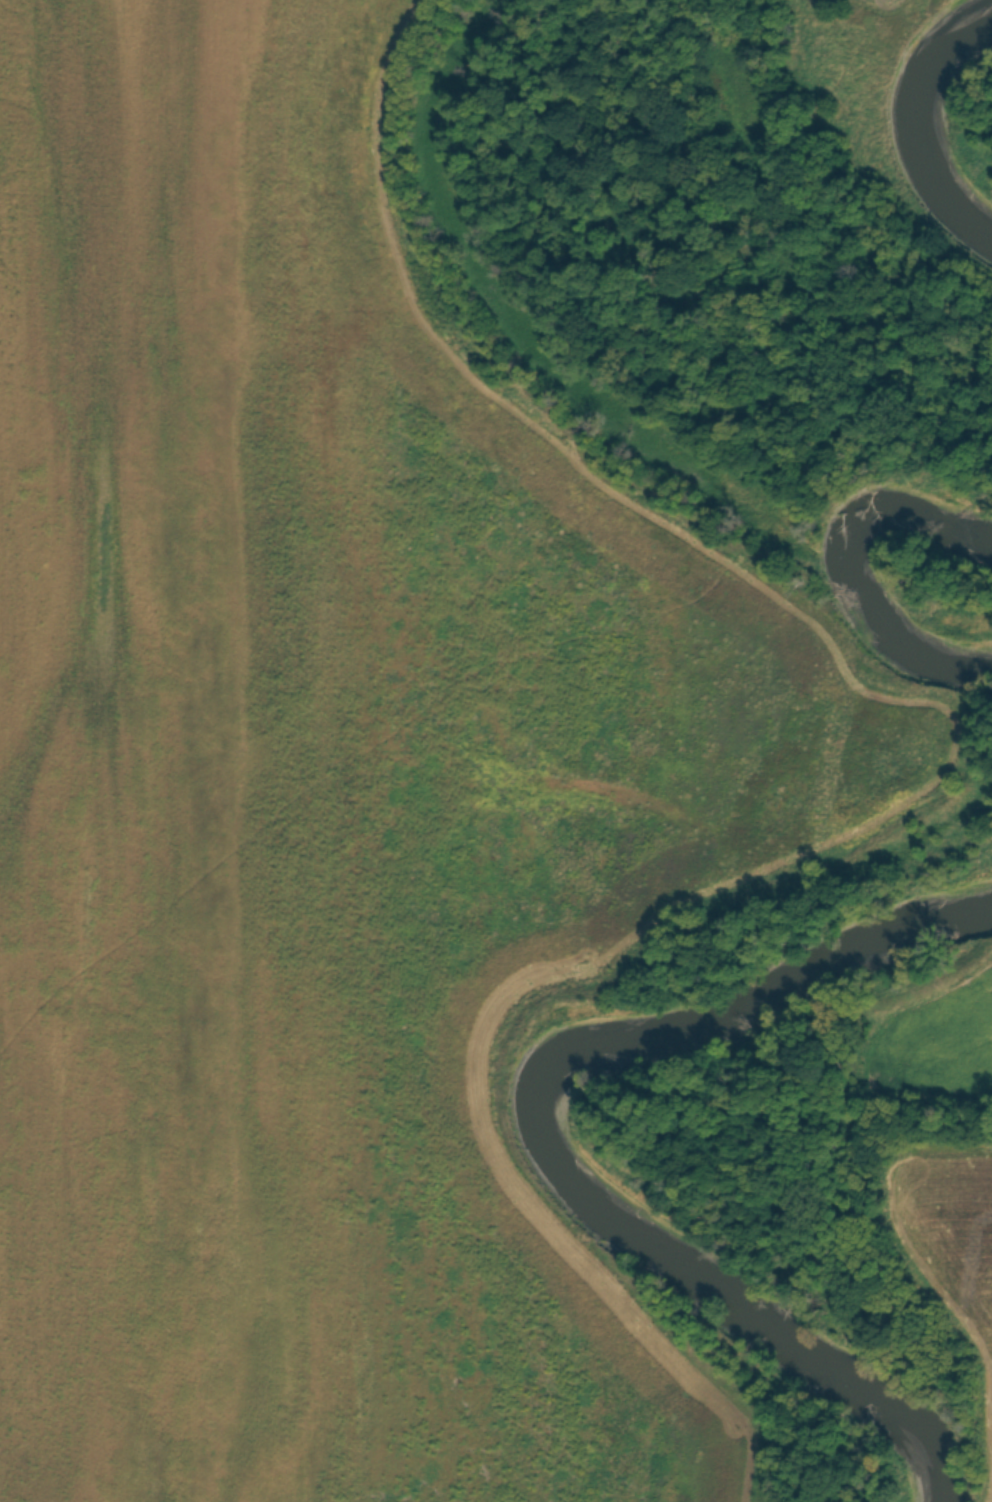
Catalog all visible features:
river: (922, 112)
river: (849, 570)
river: (545, 1131)

